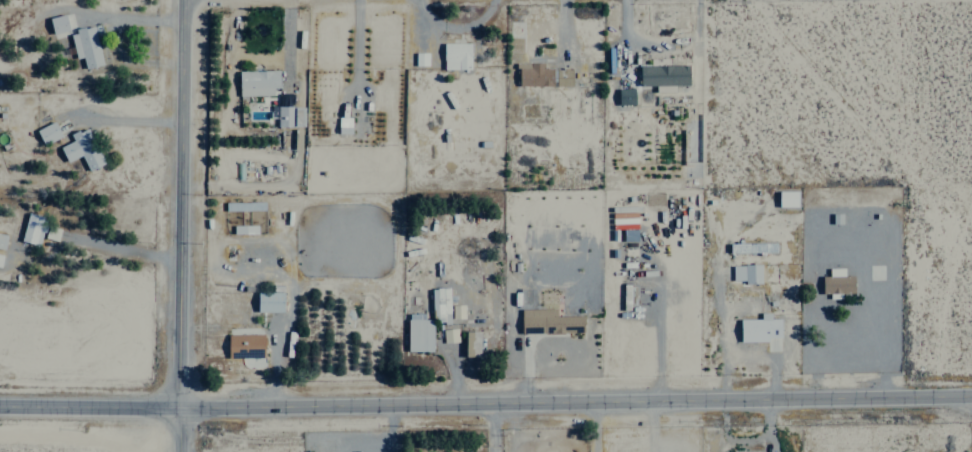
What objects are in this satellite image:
building: (57, 23)
building: (85, 46)
building: (455, 55)
building: (419, 58)
building: (542, 75)
building: (663, 76)
building: (257, 82)
building: (625, 96)
building: (290, 116)
building: (47, 132)
building: (82, 149)
building: (787, 198)
road: (179, 204)
building: (32, 229)
building: (244, 229)
building: (2, 240)
building: (746, 247)
building: (0, 257)
building: (751, 273)
building: (837, 284)
building: (269, 301)
building: (440, 304)
building: (456, 311)
building: (549, 321)
building: (759, 328)
building: (418, 333)
building: (448, 335)
building: (471, 343)
building: (244, 345)
road: (485, 399)
road: (182, 430)

